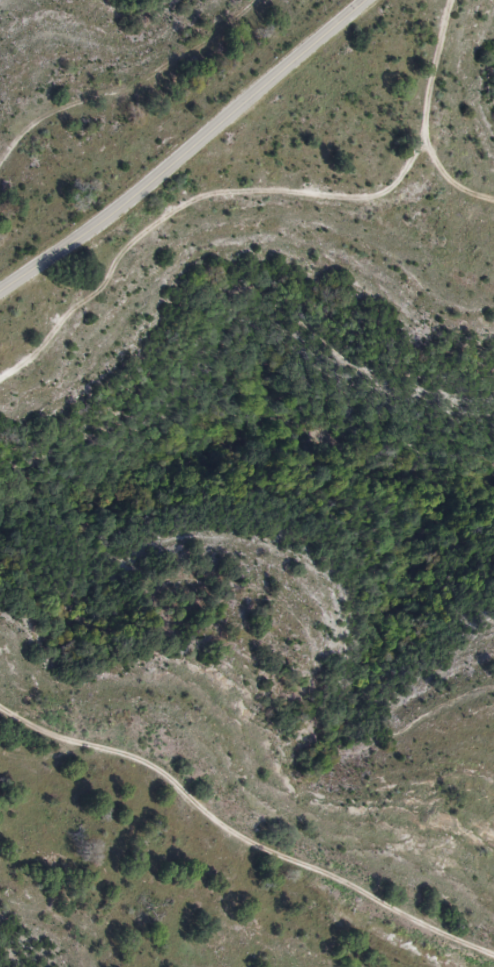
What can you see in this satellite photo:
road: (186, 148)

